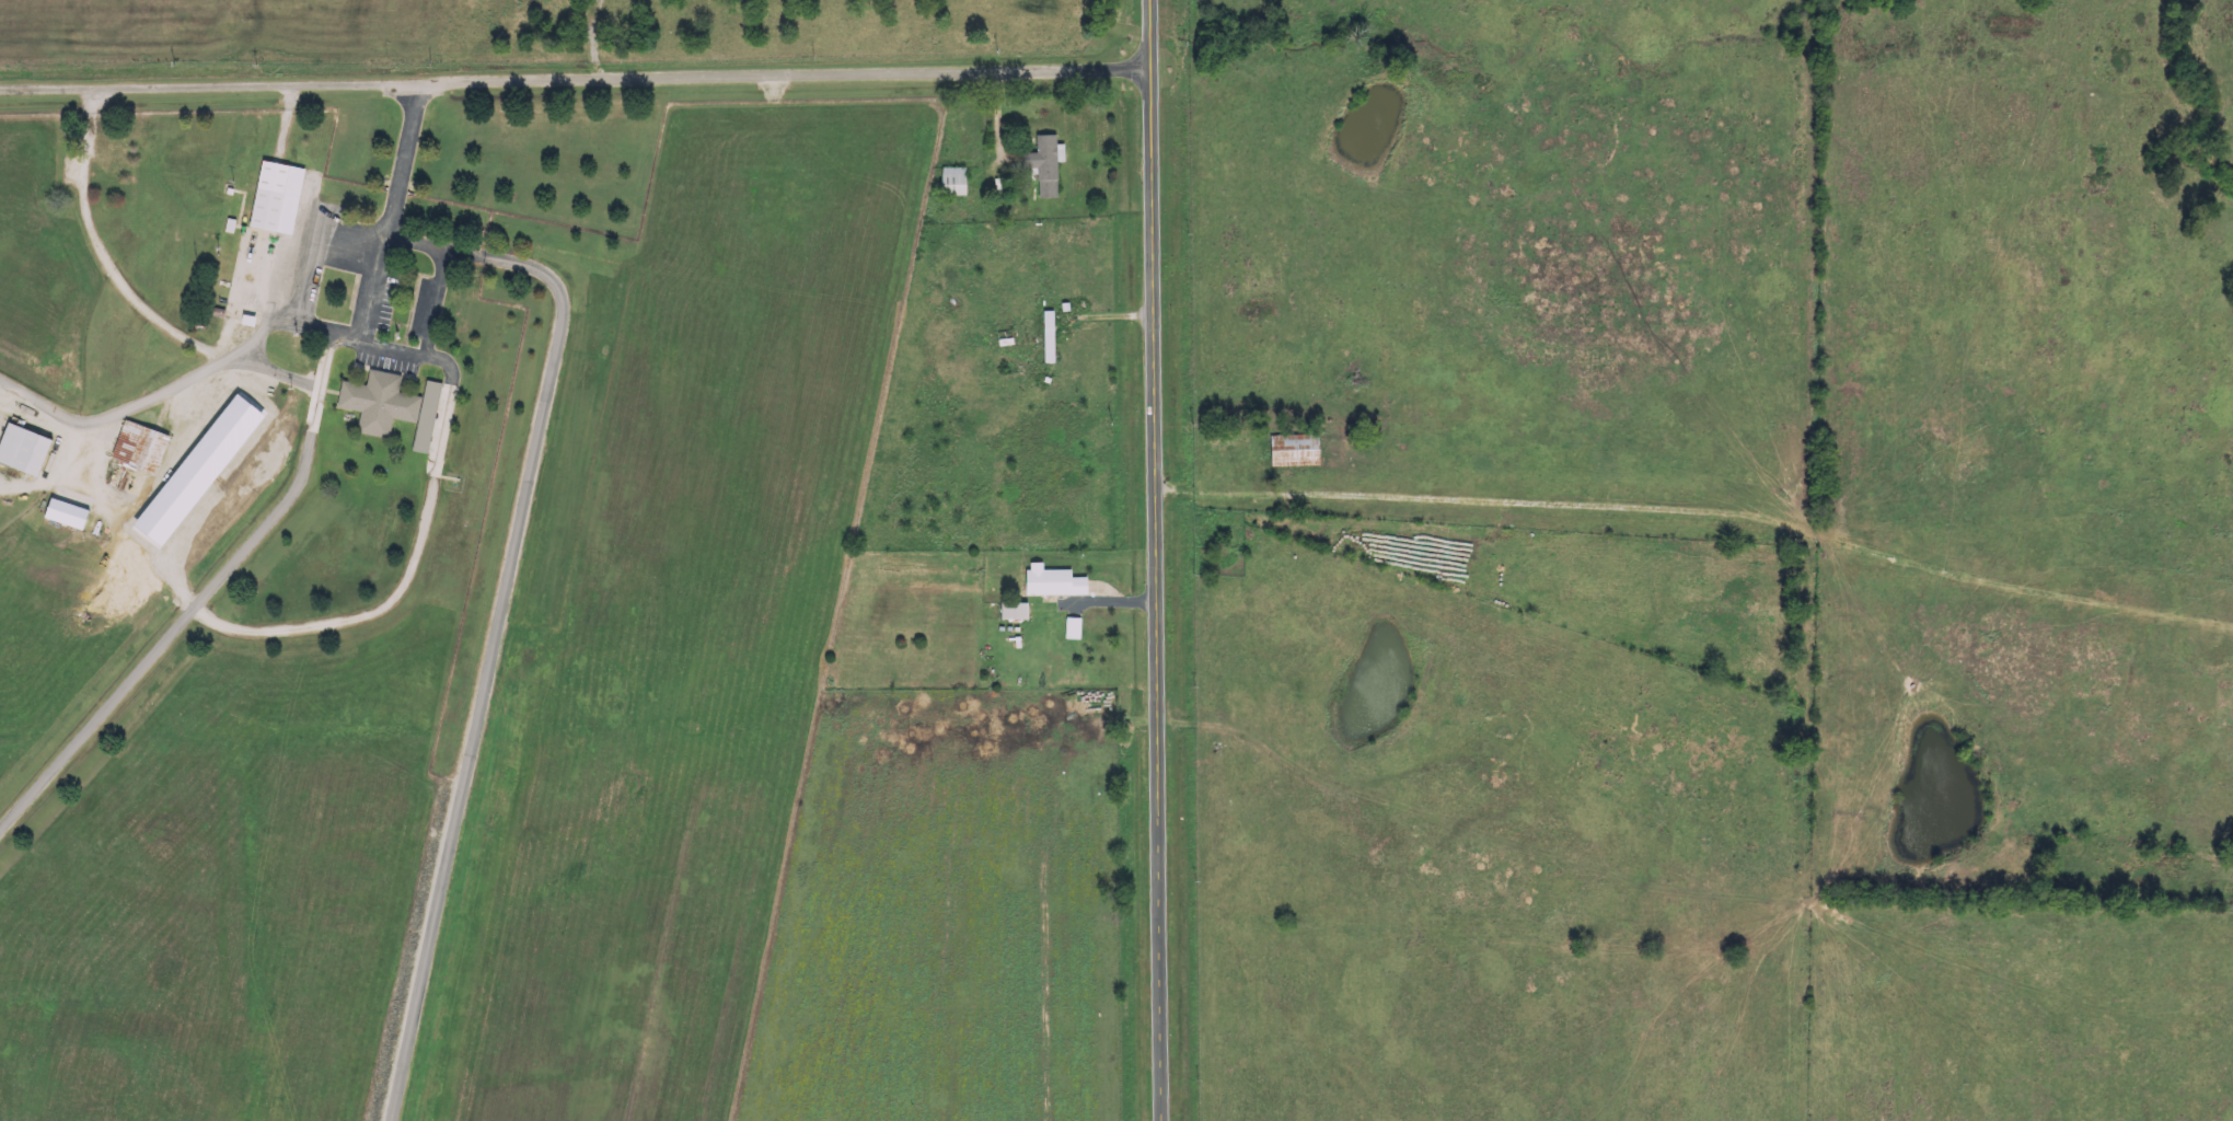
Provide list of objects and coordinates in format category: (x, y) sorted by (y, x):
road: (575, 80)
building: (1048, 164)
building: (957, 182)
building: (279, 198)
road: (105, 252)
road: (294, 270)
road: (436, 301)
building: (1051, 337)
road: (280, 371)
road: (147, 400)
building: (393, 407)
road: (446, 413)
building: (443, 423)
building: (26, 450)
building: (153, 451)
building: (1298, 451)
road: (190, 492)
building: (69, 515)
road: (1155, 560)
building: (1056, 582)
road: (199, 600)
building: (1018, 612)
road: (501, 616)
building: (1075, 628)
dam: (461, 835)

